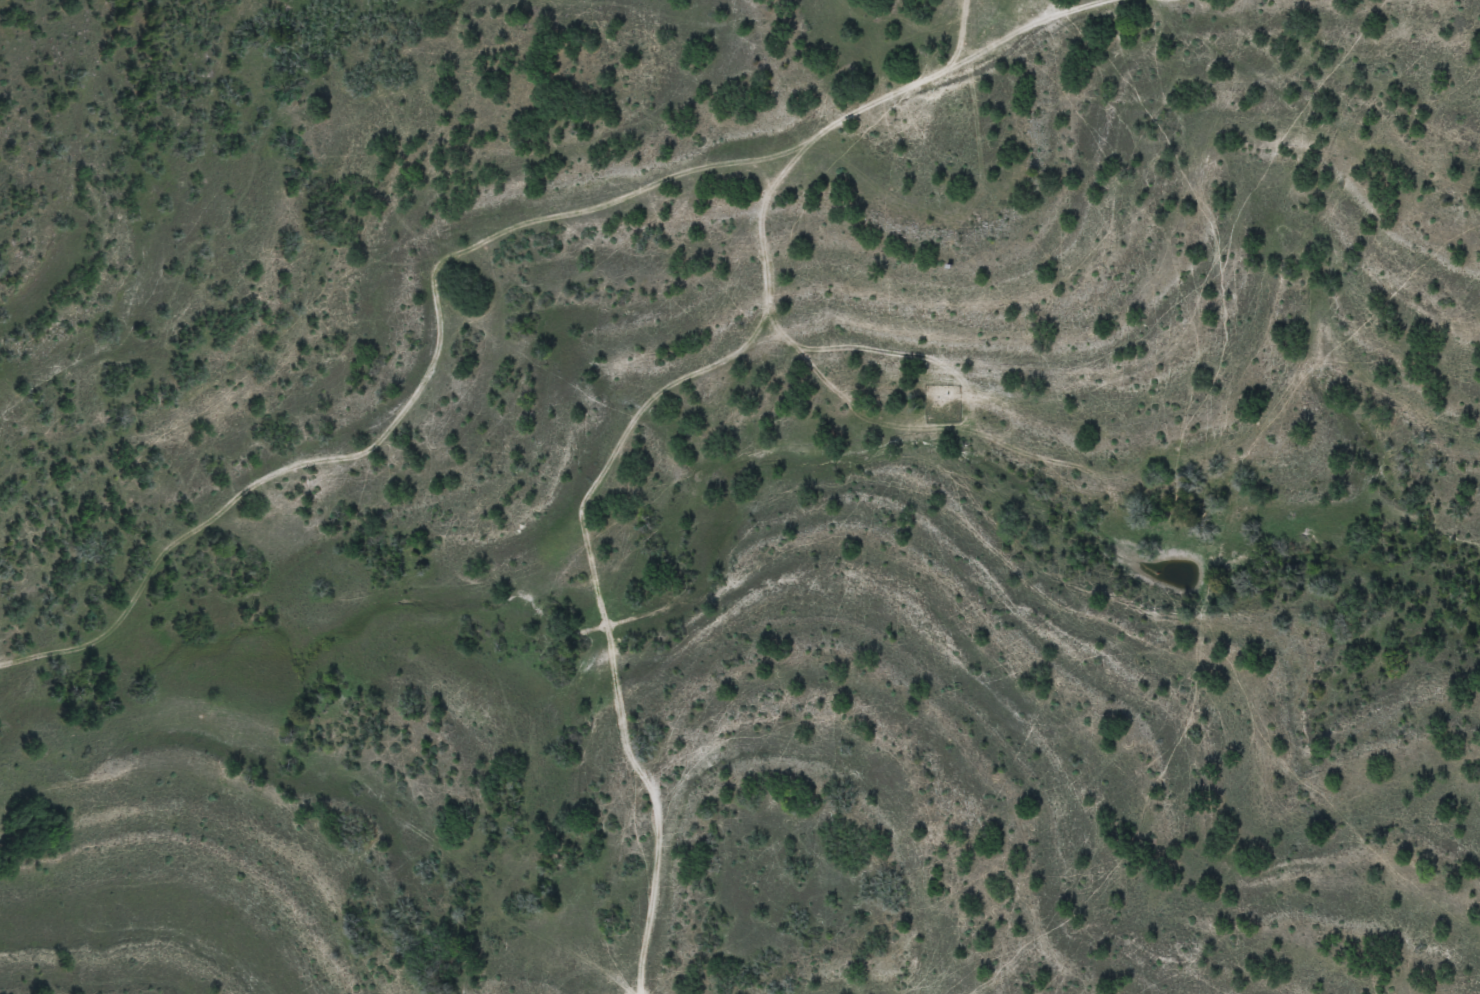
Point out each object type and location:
road: (500, 253)
road: (345, 773)
road: (1448, 978)

